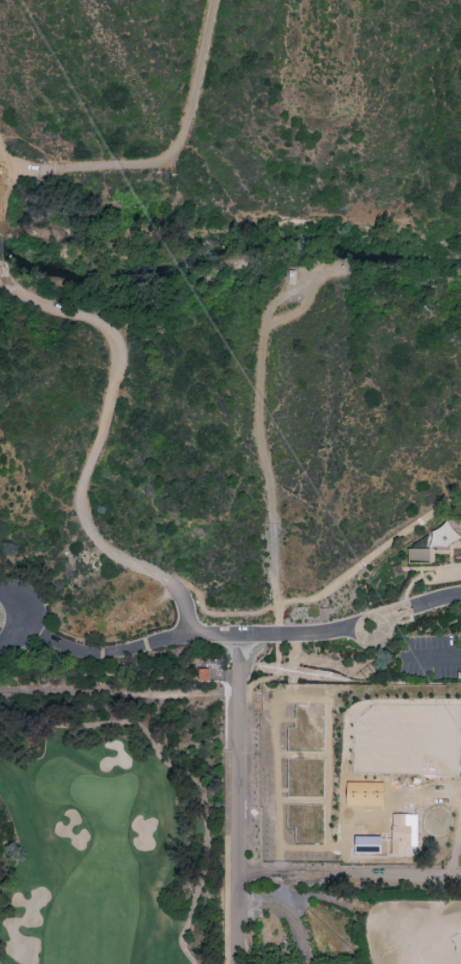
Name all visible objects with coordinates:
road: (156, 153)
road: (5, 195)
building: (291, 277)
road: (117, 350)
road: (262, 452)
building: (432, 542)
road: (325, 592)
road: (13, 603)
road: (186, 609)
road: (350, 624)
road: (189, 634)
road: (8, 638)
road: (78, 650)
road: (431, 654)
building: (202, 673)
power tower: (369, 673)
road: (277, 765)
road: (232, 799)
building: (403, 833)
building: (367, 844)
road: (347, 873)
road: (286, 911)

